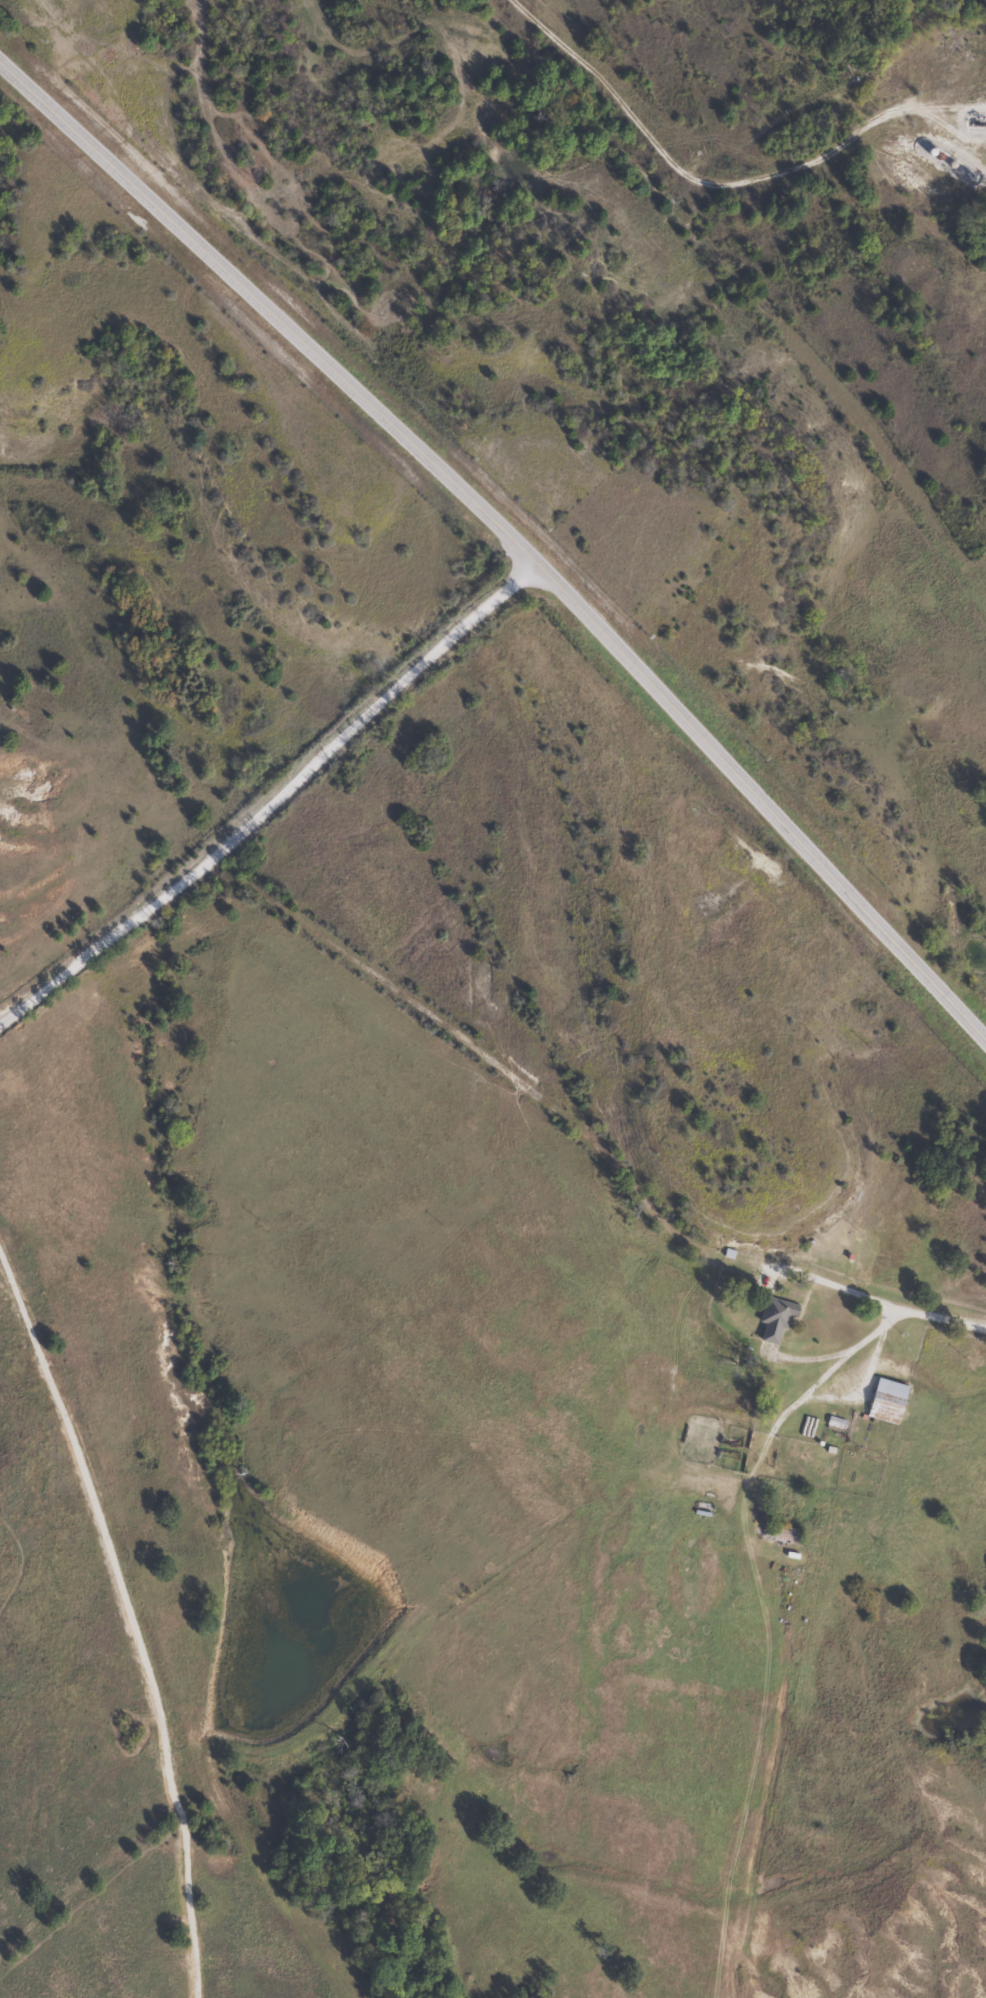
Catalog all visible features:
road: (705, 181)
road: (507, 538)
road: (274, 802)
road: (851, 1290)
building: (773, 1318)
building: (885, 1402)
building: (780, 1535)

